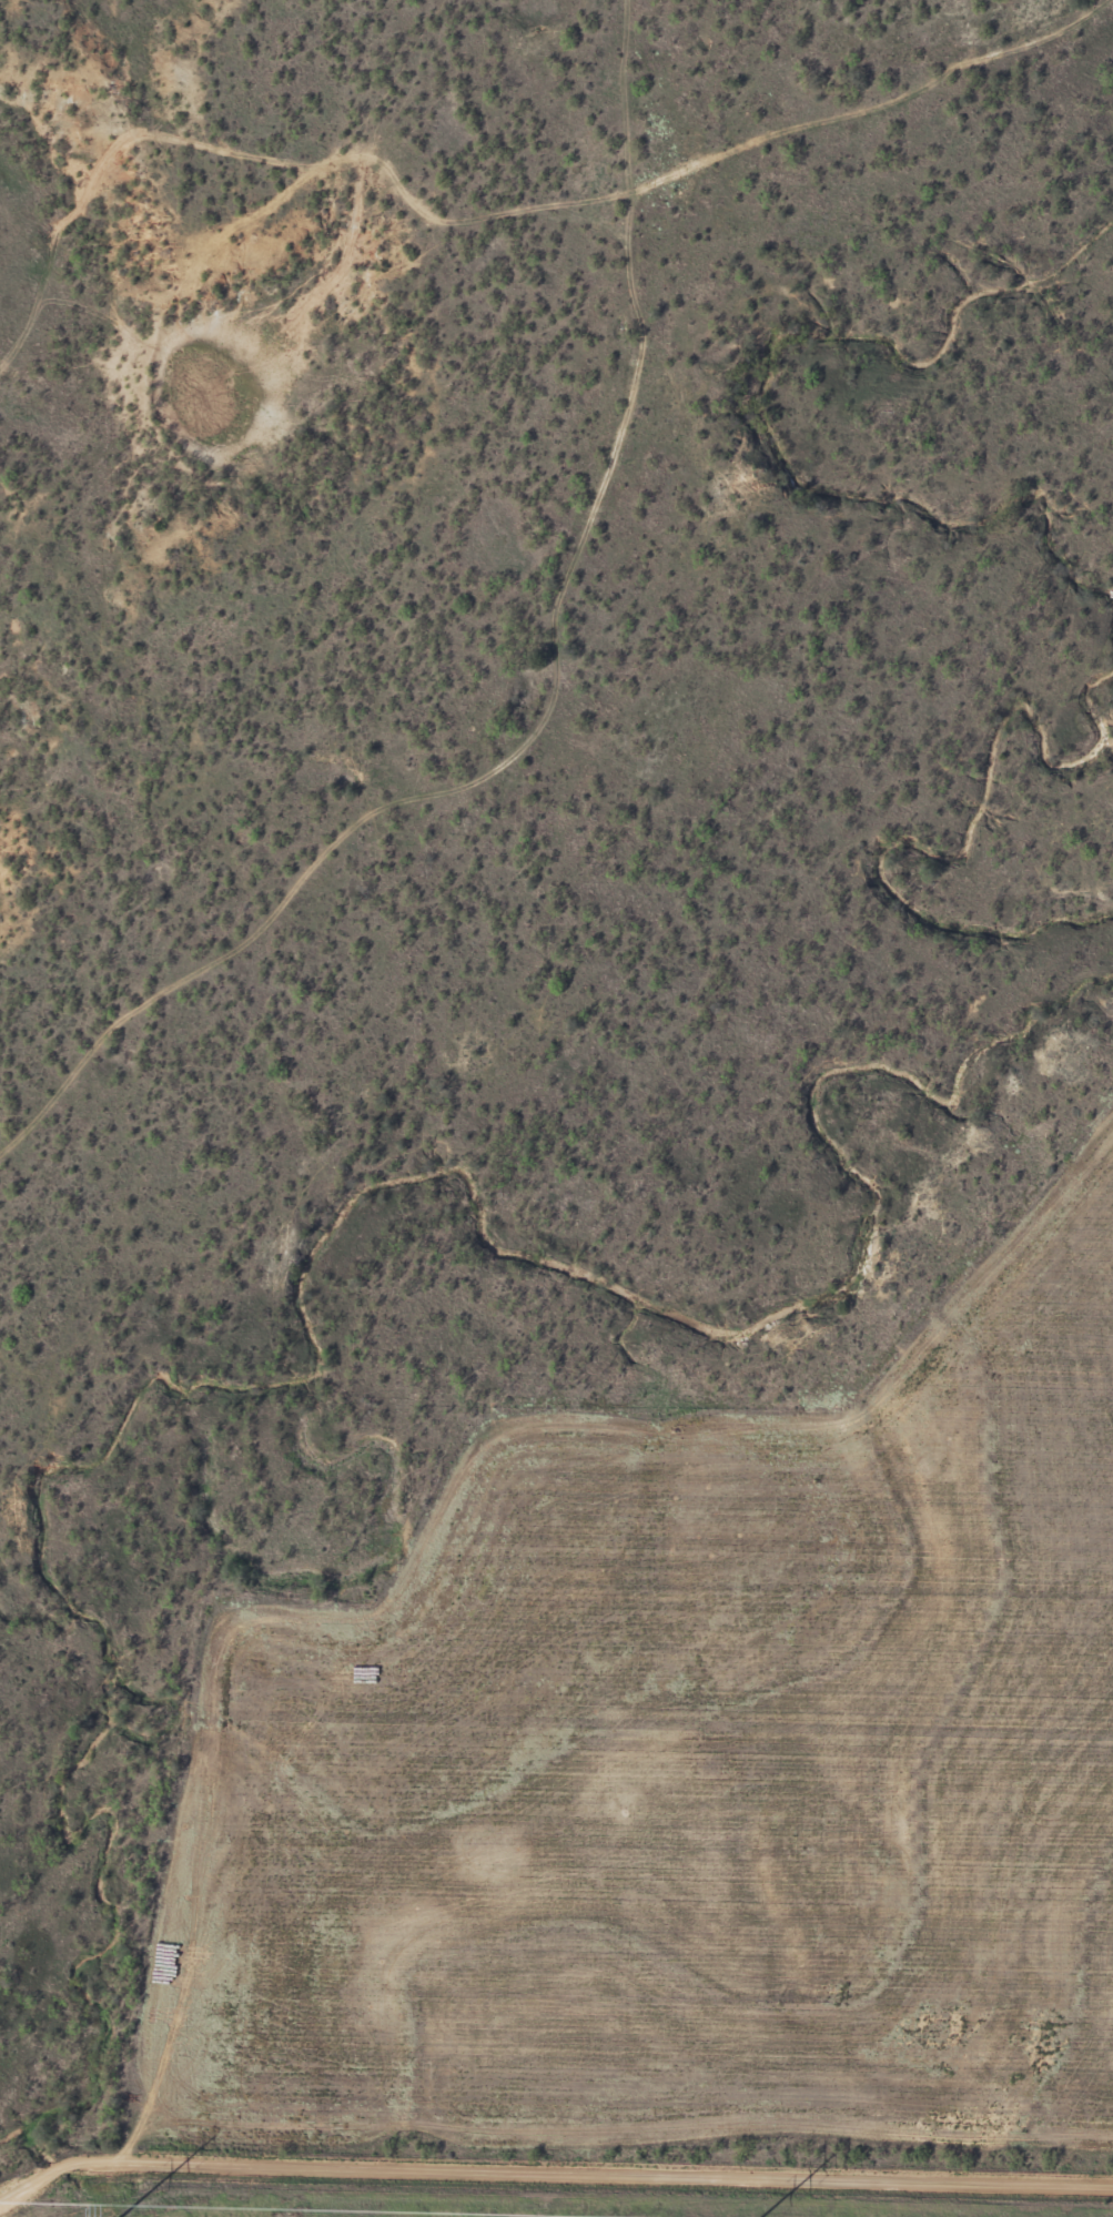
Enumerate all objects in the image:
road: (550, 2172)
power tower: (120, 2216)

